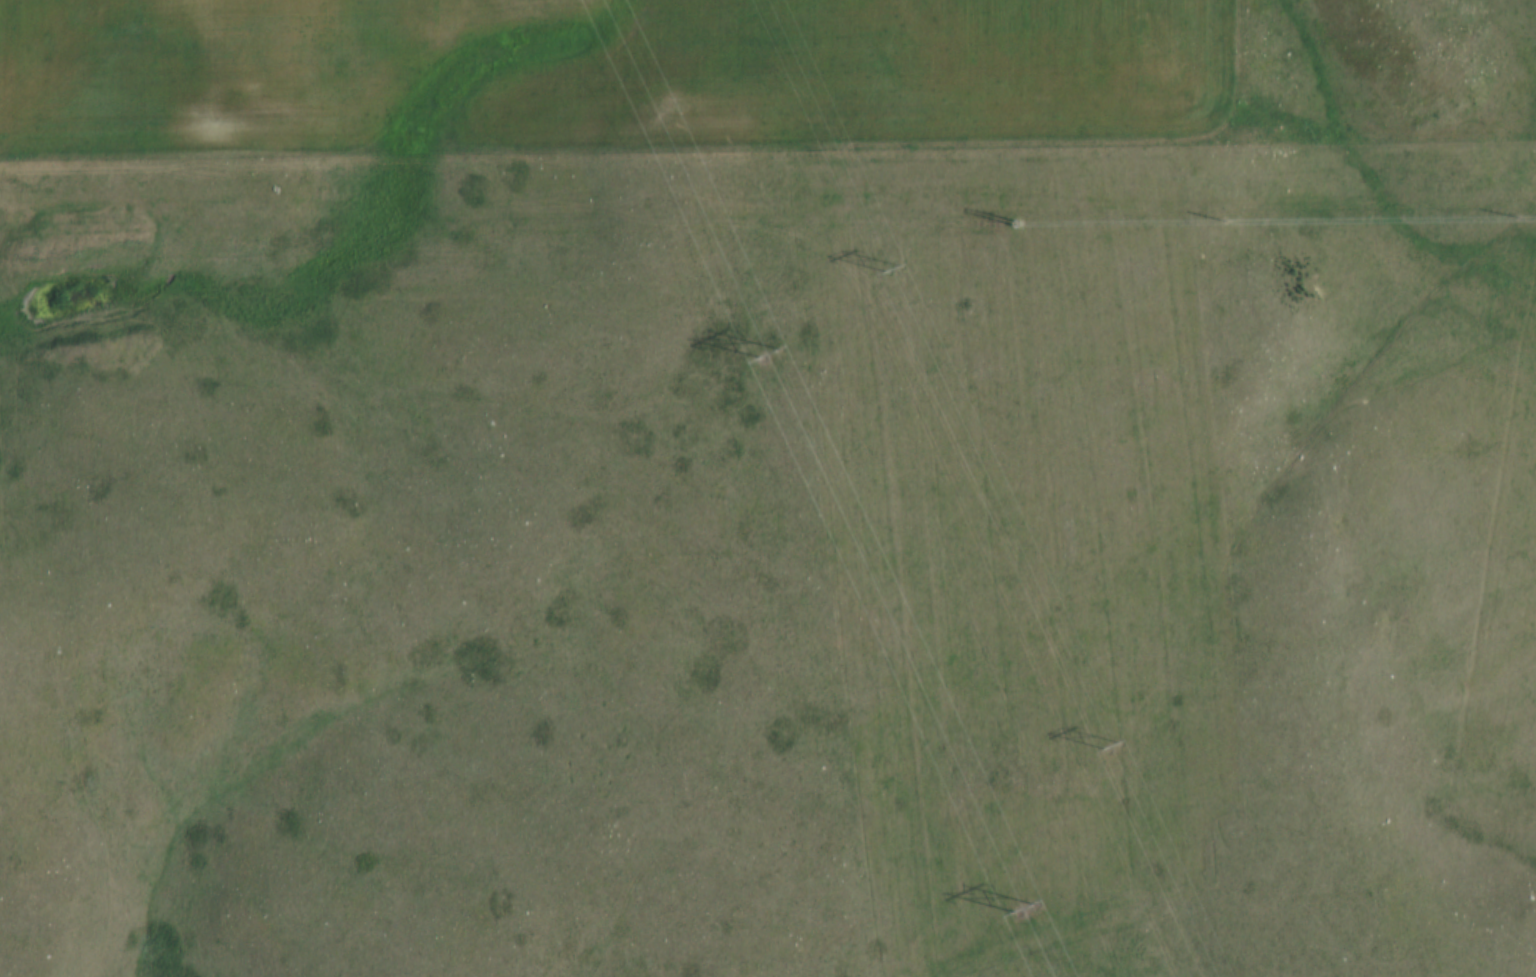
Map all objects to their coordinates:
power tower: (885, 274)
power tower: (1106, 749)

